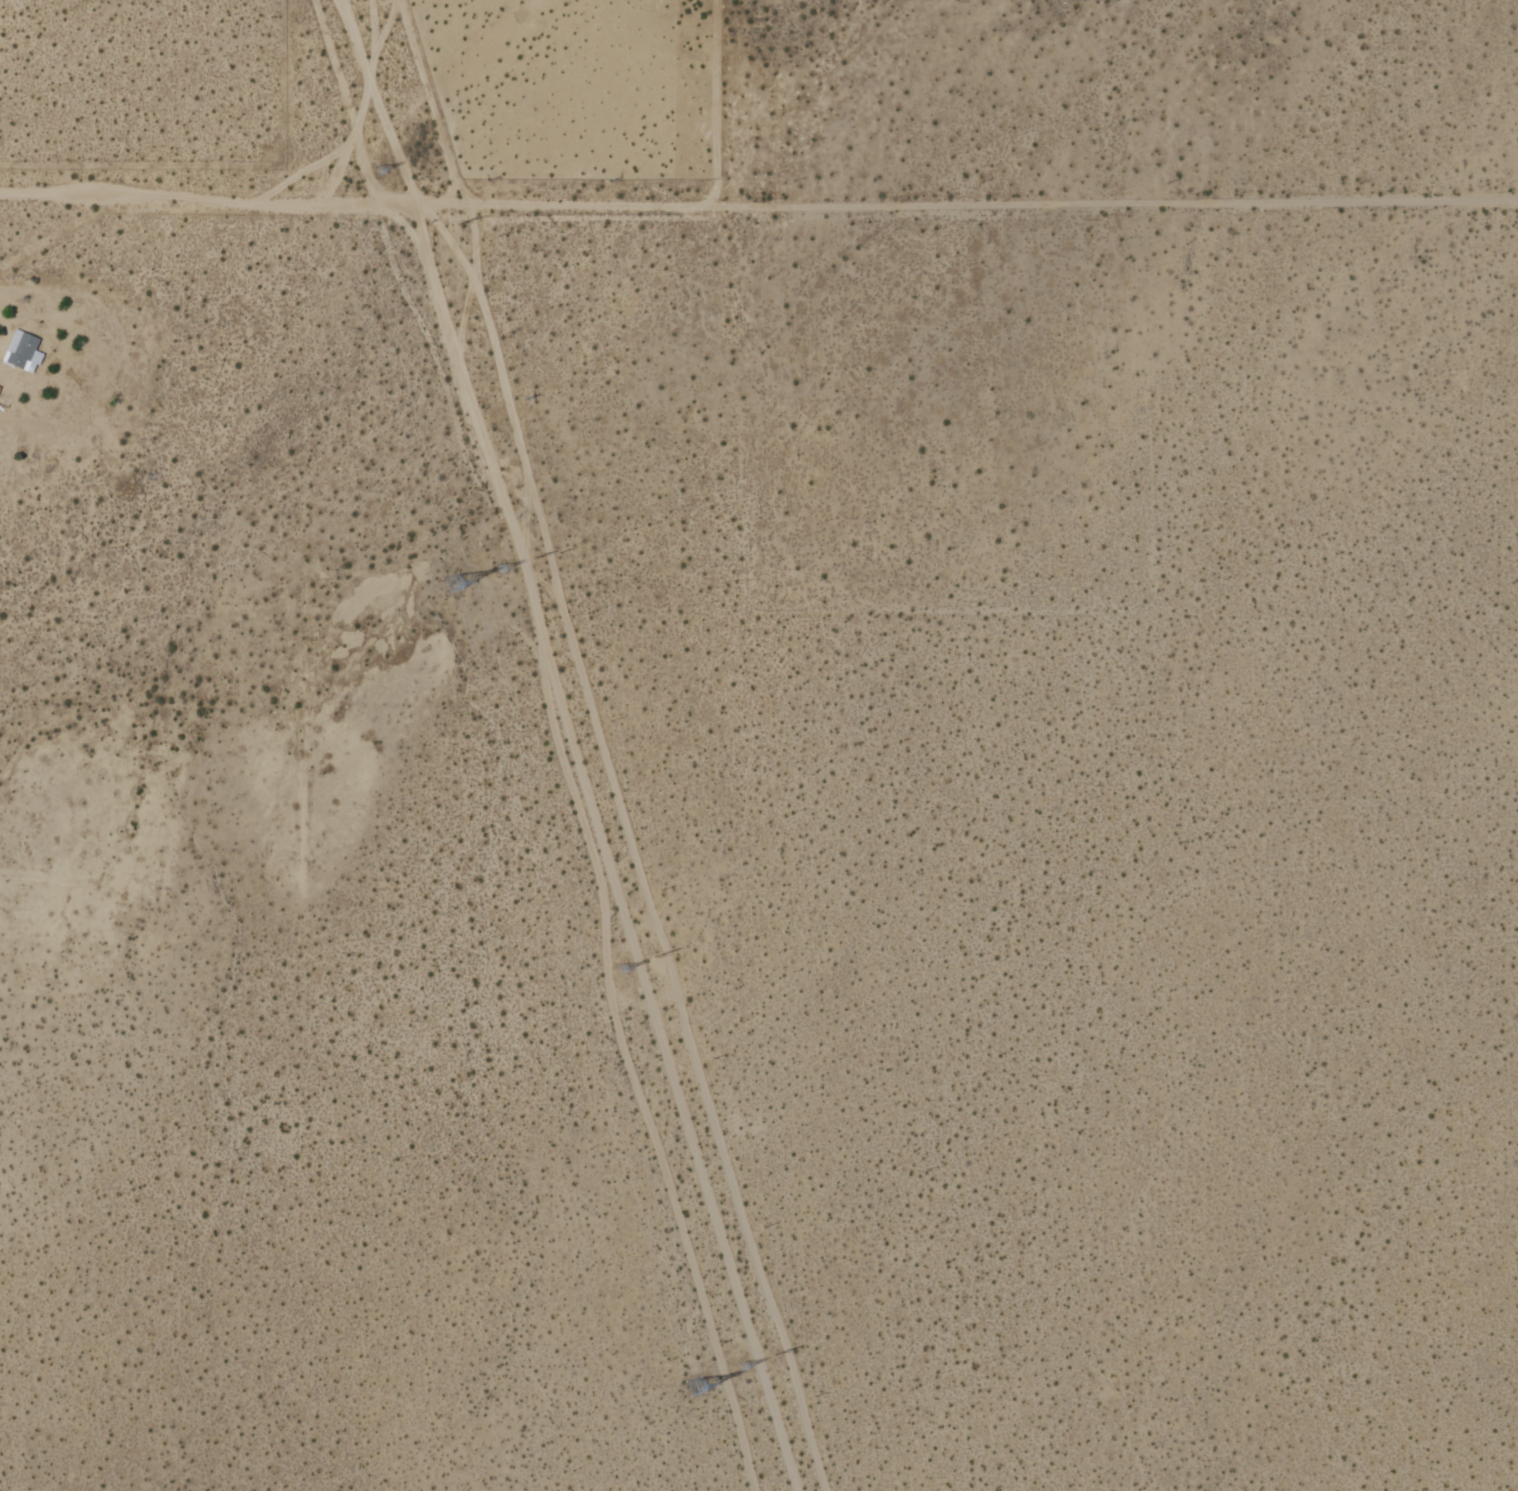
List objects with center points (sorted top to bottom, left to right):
power tower: (383, 170)
road: (758, 207)
power tower: (464, 230)
building: (22, 352)
power tower: (541, 559)
power tower: (500, 570)
power tower: (453, 583)
power tower: (661, 959)
power tower: (620, 973)
power tower: (780, 1357)
power tower: (737, 1369)
power tower: (698, 1386)

